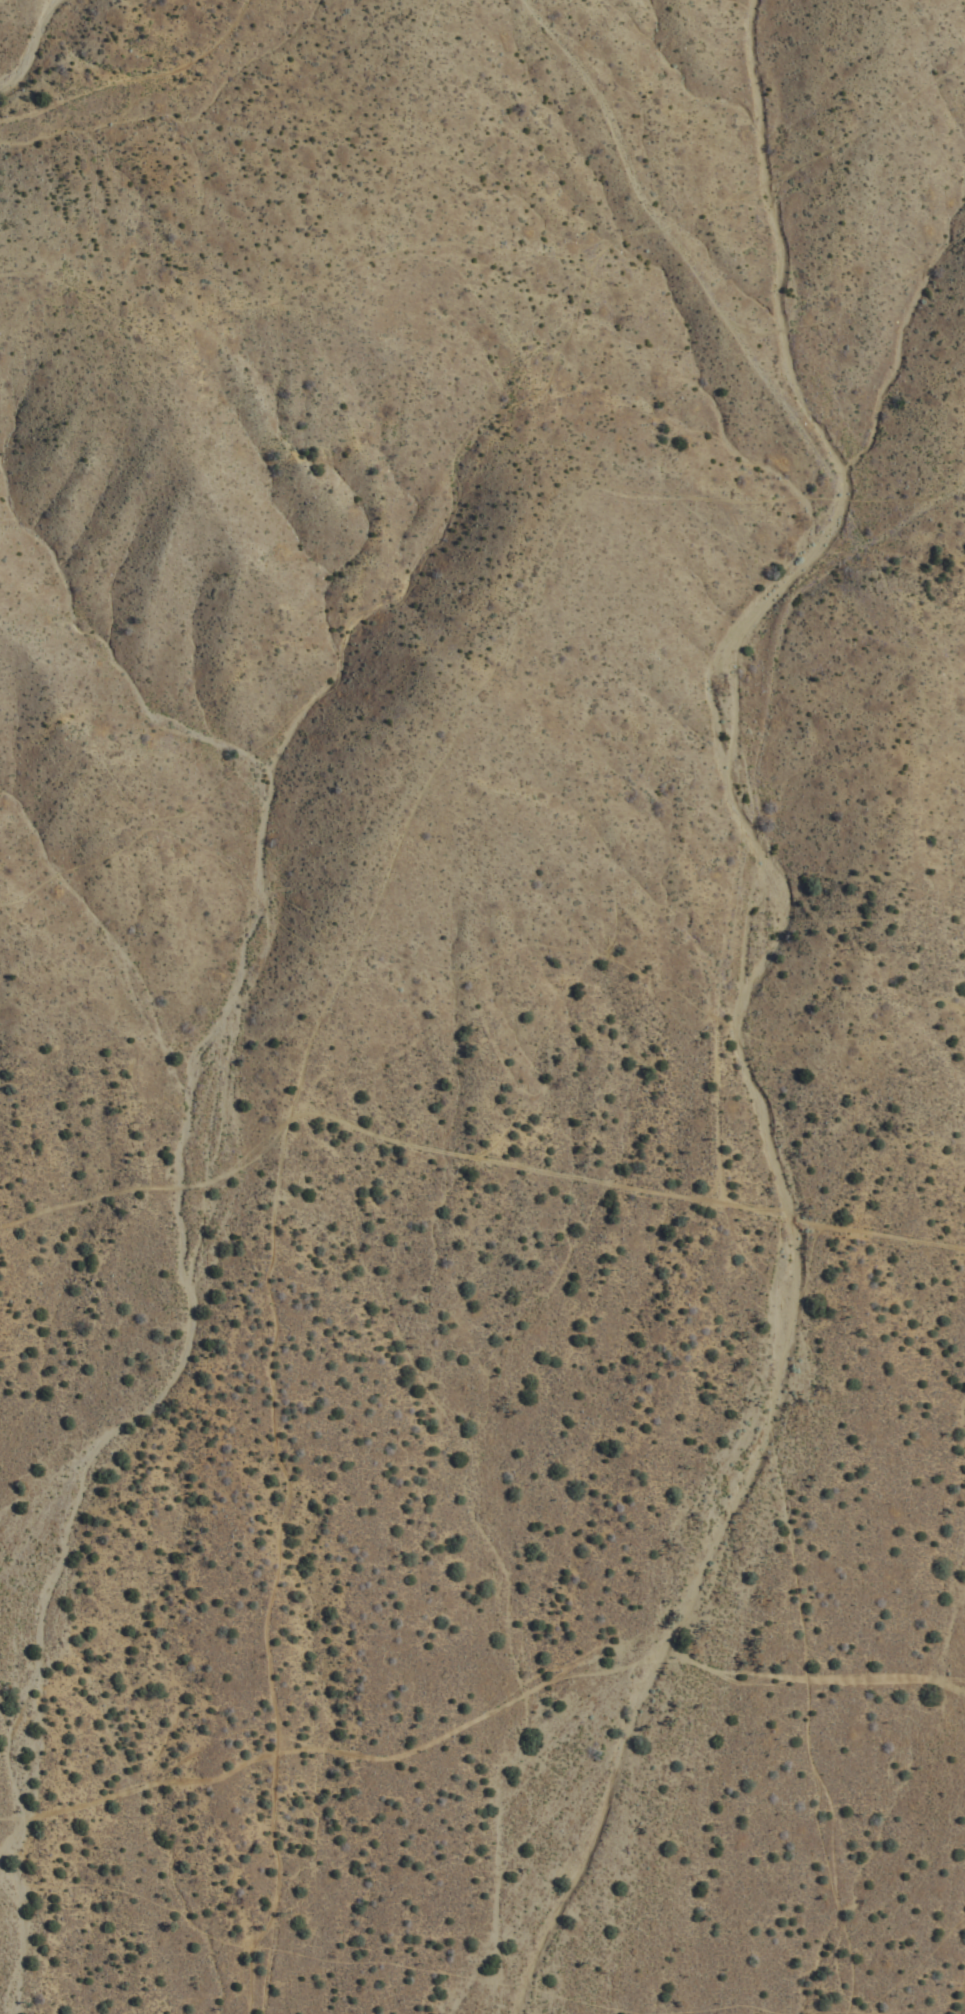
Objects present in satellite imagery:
road: (716, 1118)
road: (623, 1188)

